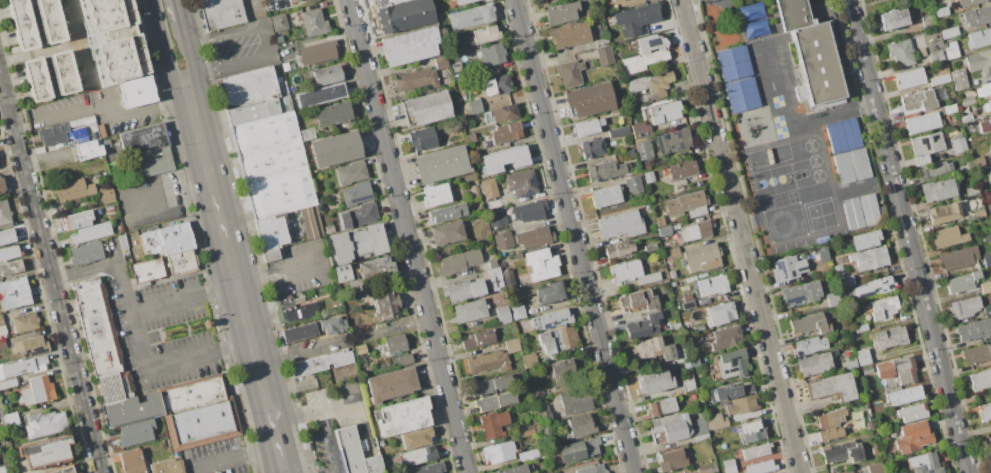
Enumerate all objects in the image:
building: (451, 0)
building: (486, 0)
building: (614, 0)
building: (872, 0)
building: (296, 1)
building: (463, 2)
building: (970, 3)
road: (178, 9)
road: (258, 12)
building: (942, 12)
building: (222, 13)
building: (561, 13)
building: (643, 14)
building: (398, 15)
building: (471, 17)
building: (977, 17)
building: (752, 20)
building: (894, 20)
building: (280, 22)
building: (929, 22)
building: (36, 23)
building: (313, 23)
building: (950, 32)
building: (569, 34)
building: (485, 35)
building: (980, 38)
building: (114, 40)
road: (265, 41)
building: (602, 43)
building: (650, 43)
road: (164, 46)
building: (411, 46)
building: (951, 50)
building: (901, 52)
building: (922, 52)
road: (189, 53)
building: (317, 53)
building: (492, 54)
building: (604, 56)
building: (812, 57)
building: (936, 57)
building: (644, 60)
building: (979, 62)
building: (441, 63)
building: (456, 67)
building: (570, 73)
building: (327, 75)
building: (50, 76)
building: (910, 78)
building: (415, 79)
building: (941, 79)
building: (960, 79)
building: (738, 80)
building: (638, 84)
building: (497, 85)
building: (658, 85)
building: (253, 87)
building: (984, 90)
building: (138, 93)
building: (321, 95)
building: (590, 99)
building: (919, 100)
building: (968, 101)
building: (472, 107)
building: (987, 107)
building: (428, 108)
building: (949, 109)
building: (260, 111)
building: (665, 112)
road: (113, 113)
building: (504, 113)
building: (334, 114)
building: (967, 118)
building: (81, 122)
building: (923, 123)
building: (985, 126)
building: (589, 127)
building: (641, 130)
building: (102, 131)
building: (619, 132)
building: (93, 133)
building: (506, 133)
building: (307, 134)
building: (266, 135)
rooftop solar panel: (664, 135)
rooftop solar panel: (677, 135)
building: (471, 138)
rooftop solar panel: (934, 138)
building: (422, 139)
building: (144, 140)
building: (674, 141)
building: (86, 143)
rooftop solar panel: (923, 143)
building: (107, 144)
building: (948, 145)
building: (959, 145)
rooftop solar panel: (658, 146)
building: (926, 147)
building: (592, 148)
rooftop solar panel: (680, 148)
building: (336, 149)
building: (644, 150)
building: (847, 152)
building: (113, 154)
building: (624, 155)
building: (767, 156)
building: (504, 160)
building: (153, 162)
building: (990, 162)
building: (273, 163)
building: (978, 163)
building: (441, 165)
building: (970, 166)
building: (683, 169)
building: (935, 170)
building: (962, 170)
building: (601, 172)
building: (351, 173)
building: (989, 176)
building: (648, 177)
building: (631, 178)
rooftop solar panel: (534, 180)
park: (771, 181)
building: (522, 183)
building: (2, 186)
building: (70, 190)
building: (939, 190)
building: (475, 191)
building: (972, 191)
building: (490, 193)
rooftop solar panel: (528, 193)
road: (173, 194)
building: (281, 194)
building: (356, 194)
building: (436, 194)
building: (107, 195)
building: (606, 196)
building: (687, 205)
building: (647, 208)
building: (869, 210)
building: (530, 211)
building: (4, 213)
building: (447, 213)
building: (851, 213)
building: (946, 213)
building: (978, 214)
building: (358, 216)
building: (77, 220)
building: (497, 222)
building: (659, 222)
building: (313, 223)
building: (620, 224)
building: (329, 229)
building: (665, 231)
building: (695, 232)
building: (92, 233)
building: (448, 233)
building: (272, 236)
road: (408, 236)
road: (574, 236)
road: (742, 236)
road: (908, 236)
building: (7, 237)
building: (949, 237)
building: (534, 238)
building: (986, 238)
building: (820, 239)
building: (170, 240)
building: (503, 240)
building: (866, 240)
building: (357, 244)
building: (651, 248)
building: (619, 250)
building: (86, 252)
building: (9, 253)
building: (672, 253)
building: (822, 253)
building: (516, 255)
building: (701, 258)
building: (958, 258)
building: (868, 259)
building: (987, 260)
building: (458, 262)
building: (184, 263)
building: (493, 263)
building: (541, 264)
parking lot: (301, 267)
building: (11, 268)
building: (376, 268)
rooftop solar panel: (781, 268)
building: (788, 268)
building: (990, 269)
building: (625, 270)
road: (50, 271)
building: (149, 272)
building: (838, 272)
building: (343, 273)
building: (671, 274)
road: (277, 275)
building: (507, 278)
building: (648, 278)
building: (495, 279)
road: (236, 280)
building: (845, 281)
building: (964, 283)
building: (674, 284)
building: (713, 285)
building: (873, 287)
building: (986, 287)
rooftop solar panel: (889, 288)
building: (463, 290)
building: (549, 293)
building: (14, 294)
building: (800, 294)
building: (687, 298)
building: (833, 298)
road: (185, 299)
rooftop solar panel: (794, 300)
building: (638, 301)
building: (704, 301)
building: (385, 304)
building: (687, 305)
building: (965, 307)
building: (287, 308)
building: (882, 308)
building: (348, 309)
building: (470, 310)
rooftop solar panel: (958, 311)
building: (987, 311)
building: (518, 312)
building: (503, 314)
building: (720, 314)
building: (551, 319)
rooftop solar panel: (562, 320)
building: (25, 323)
building: (207, 324)
building: (518, 324)
building: (809, 324)
building: (333, 325)
rooftop solar panel: (556, 325)
building: (643, 326)
rooftop solar panel: (548, 328)
building: (699, 328)
building: (862, 328)
building: (2, 329)
building: (974, 330)
building: (100, 332)
building: (300, 333)
road: (139, 335)
parking lot: (140, 337)
building: (727, 337)
building: (482, 338)
building: (889, 338)
road: (344, 340)
building: (559, 340)
building: (3, 344)
building: (394, 345)
building: (512, 346)
building: (808, 346)
building: (30, 347)
building: (647, 348)
building: (360, 349)
building: (667, 353)
building: (977, 354)
building: (863, 357)
building: (403, 359)
building: (530, 361)
building: (320, 363)
building: (488, 363)
building: (733, 363)
rooftop solar panel: (733, 363)
building: (848, 363)
building: (814, 364)
building: (24, 367)
building: (904, 369)
rooftop solar panel: (734, 370)
building: (867, 370)
building: (562, 371)
rooftop solar panel: (724, 373)
building: (876, 376)
building: (655, 381)
building: (981, 381)
building: (8, 384)
building: (688, 384)
building: (391, 385)
building: (490, 386)
building: (833, 388)
building: (38, 391)
building: (538, 392)
building: (730, 392)
building: (903, 395)
building: (495, 401)
building: (576, 401)
building: (127, 402)
building: (742, 405)
building: (662, 407)
road: (314, 410)
building: (984, 412)
building: (201, 413)
building: (910, 413)
building: (544, 414)
building: (403, 416)
building: (12, 420)
building: (715, 422)
building: (45, 424)
building: (493, 424)
building: (831, 424)
building: (581, 425)
building: (869, 425)
building: (670, 428)
building: (699, 429)
building: (528, 430)
building: (548, 430)
building: (753, 431)
building: (136, 433)
building: (914, 437)
building: (416, 438)
building: (989, 441)
building: (381, 443)
building: (716, 443)
building: (578, 450)
building: (874, 450)
building: (756, 451)
building: (45, 452)
building: (499, 452)
building: (842, 452)
building: (355, 453)
building: (420, 455)
building: (528, 455)
parking lot: (218, 458)
road: (237, 458)
building: (672, 460)
building: (132, 462)
building: (926, 463)
building: (729, 466)
building: (166, 467)
building: (761, 467)
building: (876, 468)
building: (3, 469)
building: (65, 469)
building: (430, 469)
building: (513, 469)
building: (592, 469)
building: (705, 469)
building: (851, 472)
building: (855, 472)

